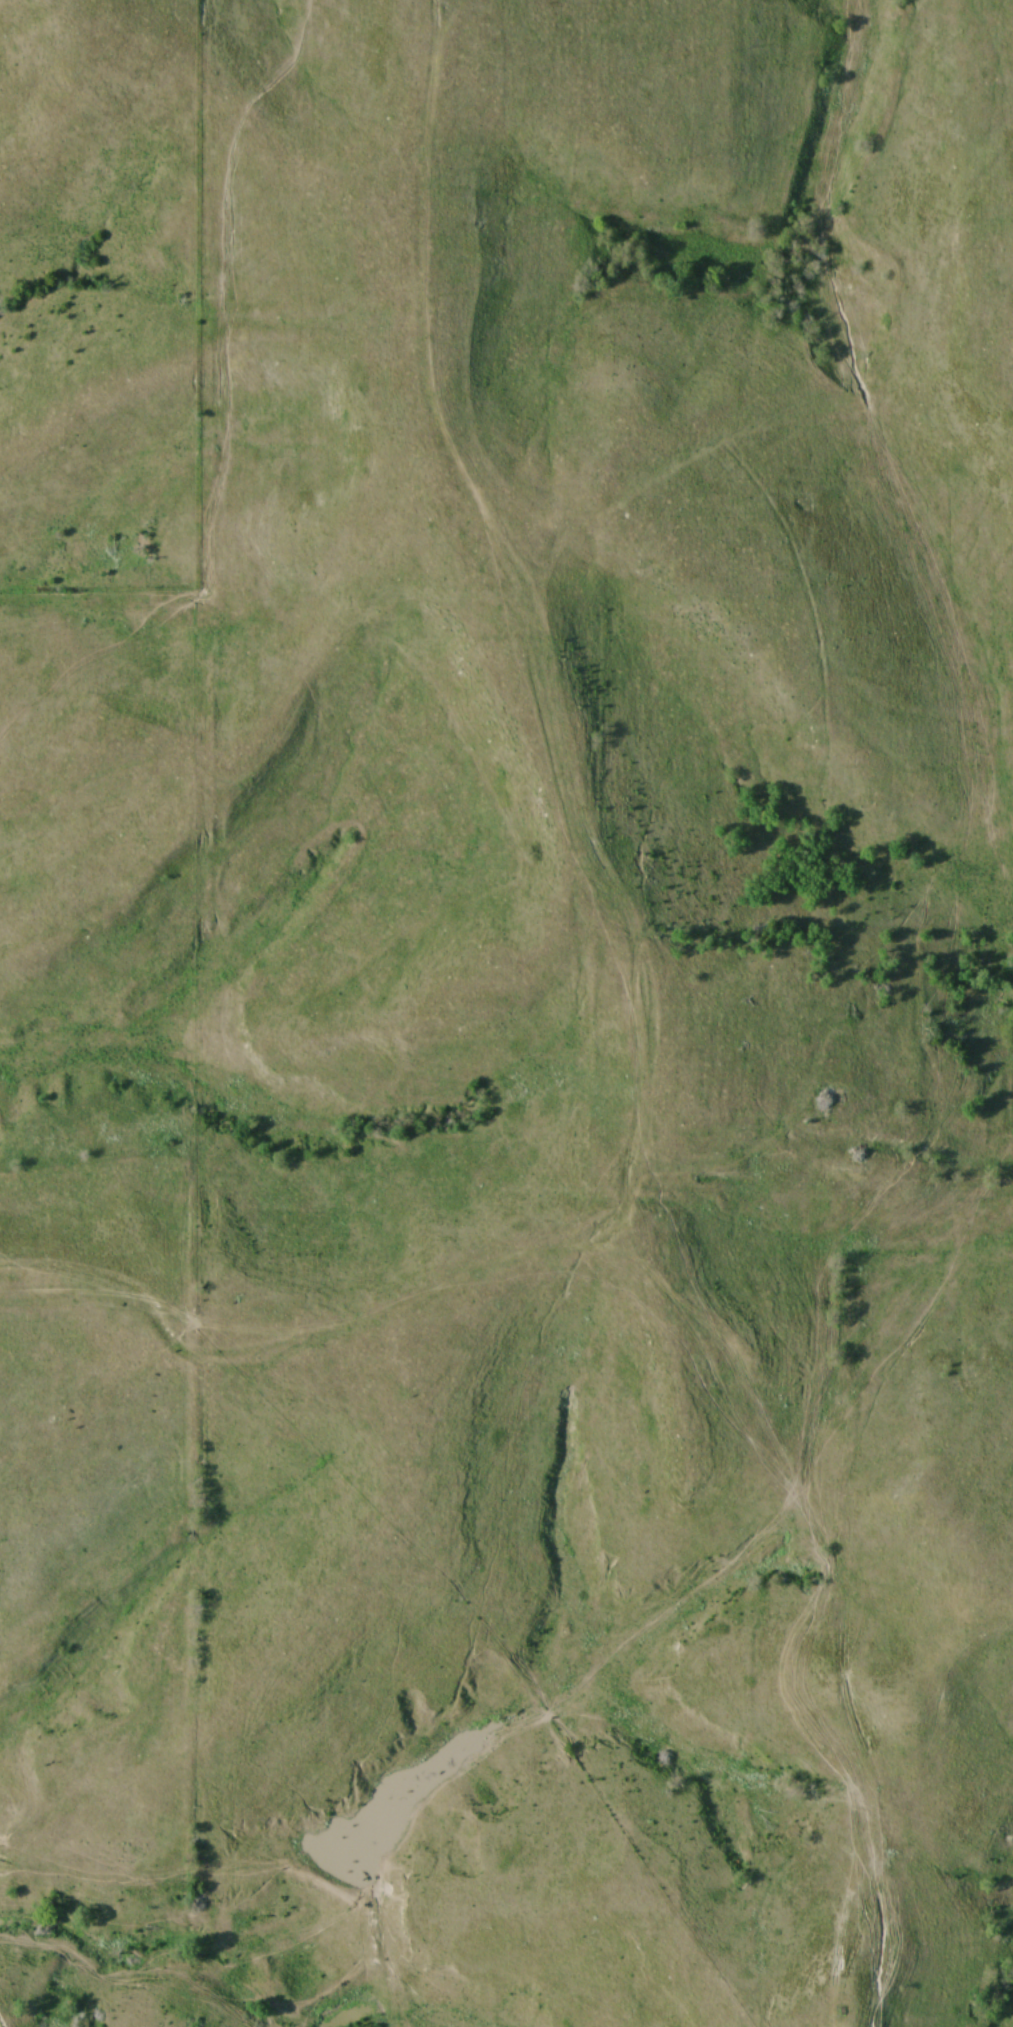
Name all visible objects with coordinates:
building: (836, 1095)

